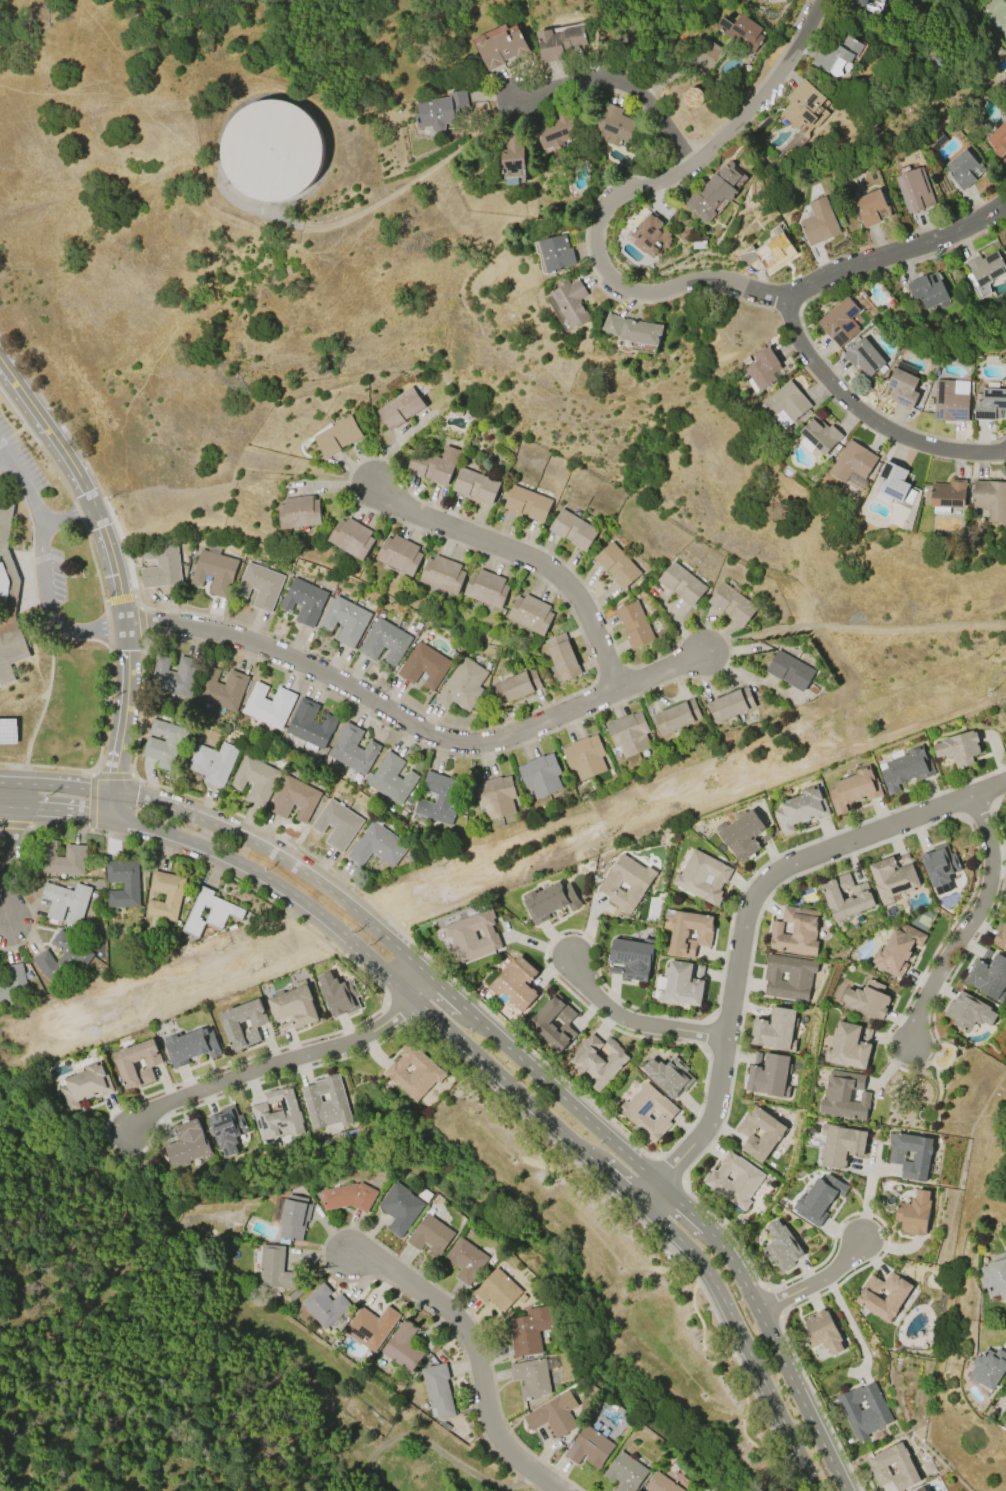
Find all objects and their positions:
building: (762, 0)
building: (878, 1)
building: (857, 2)
building: (743, 32)
building: (558, 43)
building: (501, 45)
building: (838, 55)
road: (625, 86)
building: (693, 97)
building: (802, 104)
building: (441, 108)
building: (616, 125)
building: (762, 127)
building: (557, 131)
building: (999, 141)
building: (271, 150)
building: (513, 157)
building: (963, 169)
building: (914, 189)
building: (713, 192)
road: (624, 196)
building: (871, 207)
building: (819, 222)
building: (653, 234)
building: (774, 250)
road: (899, 253)
building: (555, 255)
building: (985, 272)
building: (928, 290)
building: (571, 303)
building: (839, 323)
building: (636, 328)
building: (864, 357)
building: (763, 370)
road: (4, 371)
building: (903, 384)
building: (951, 400)
building: (990, 404)
building: (787, 405)
building: (400, 408)
road: (869, 416)
building: (337, 436)
building: (818, 436)
road: (57, 449)
road: (5, 453)
road: (5, 461)
building: (855, 461)
parking lot: (18, 462)
building: (432, 465)
building: (893, 484)
building: (475, 486)
road: (26, 493)
building: (948, 495)
building: (990, 499)
building: (526, 504)
building: (299, 512)
road: (66, 515)
building: (572, 529)
building: (352, 538)
road: (536, 545)
building: (399, 554)
road: (521, 555)
building: (160, 566)
building: (616, 566)
building: (213, 570)
building: (442, 574)
parking lot: (56, 575)
road: (113, 575)
building: (259, 584)
building: (682, 584)
building: (486, 588)
road: (133, 595)
road: (119, 598)
road: (104, 600)
building: (303, 600)
building: (8, 602)
building: (732, 604)
road: (139, 606)
road: (47, 608)
building: (530, 614)
building: (347, 620)
road: (141, 624)
road: (132, 625)
building: (634, 625)
road: (144, 641)
building: (386, 641)
building: (561, 657)
road: (126, 662)
building: (425, 666)
building: (789, 670)
building: (176, 676)
building: (464, 686)
road: (108, 687)
building: (516, 687)
building: (223, 689)
building: (268, 705)
building: (732, 705)
building: (677, 717)
road: (123, 719)
building: (310, 726)
building: (8, 728)
road: (426, 732)
building: (629, 734)
building: (166, 744)
building: (959, 748)
building: (353, 749)
road: (116, 755)
building: (584, 757)
building: (212, 763)
road: (45, 766)
building: (905, 767)
road: (91, 771)
road: (111, 773)
road: (131, 773)
building: (540, 776)
building: (254, 779)
building: (391, 779)
road: (6, 781)
road: (111, 782)
road: (52, 785)
building: (855, 788)
road: (101, 790)
road: (12, 794)
building: (495, 797)
building: (293, 798)
building: (437, 798)
road: (91, 800)
road: (112, 804)
road: (6, 806)
building: (802, 809)
road: (62, 810)
building: (336, 823)
road: (14, 825)
road: (90, 830)
building: (742, 834)
road: (253, 843)
building: (376, 844)
road: (161, 850)
building: (62, 859)
road: (240, 863)
road: (8, 864)
building: (940, 864)
building: (702, 877)
building: (893, 878)
building: (626, 882)
building: (123, 883)
building: (166, 896)
building: (846, 896)
building: (549, 900)
building: (66, 902)
road: (748, 911)
building: (208, 912)
road: (970, 924)
building: (795, 932)
building: (688, 933)
road: (318, 936)
building: (473, 936)
building: (1001, 938)
building: (897, 951)
road: (405, 955)
building: (62, 958)
building: (630, 959)
road: (383, 969)
building: (788, 977)
building: (988, 977)
building: (13, 984)
building: (514, 984)
building: (681, 984)
road: (423, 989)
building: (337, 994)
road: (448, 995)
building: (868, 999)
building: (293, 1006)
building: (0, 1007)
building: (969, 1011)
road: (633, 1020)
road: (477, 1021)
building: (242, 1023)
building: (553, 1023)
building: (775, 1030)
building: (848, 1045)
building: (189, 1046)
building: (597, 1061)
building: (123, 1064)
road: (272, 1065)
building: (413, 1071)
road: (494, 1071)
building: (768, 1075)
building: (668, 1076)
building: (84, 1086)
building: (844, 1096)
building: (325, 1103)
road: (573, 1108)
building: (648, 1111)
building: (276, 1115)
building: (227, 1129)
building: (760, 1134)
building: (187, 1143)
building: (841, 1144)
road: (586, 1154)
building: (895, 1158)
building: (733, 1180)
road: (619, 1184)
road: (649, 1193)
building: (347, 1197)
building: (819, 1198)
road: (866, 1199)
road: (682, 1206)
building: (400, 1208)
building: (913, 1213)
building: (293, 1217)
building: (430, 1235)
road: (717, 1242)
building: (780, 1247)
building: (463, 1260)
building: (273, 1268)
building: (994, 1276)
road: (813, 1281)
road: (742, 1283)
building: (497, 1290)
building: (869, 1298)
building: (324, 1306)
road: (734, 1325)
building: (371, 1326)
road: (702, 1327)
road: (850, 1327)
building: (529, 1330)
building: (821, 1332)
building: (402, 1347)
road: (480, 1362)
building: (989, 1367)
building: (531, 1377)
building: (437, 1390)
road: (801, 1400)
building: (863, 1410)
building: (553, 1414)
building: (445, 1425)
road: (742, 1429)
building: (589, 1447)
road: (435, 1448)
park: (406, 1450)
building: (903, 1467)
building: (625, 1472)
road: (792, 1474)
road: (810, 1478)
building: (661, 1484)
building: (920, 1489)

